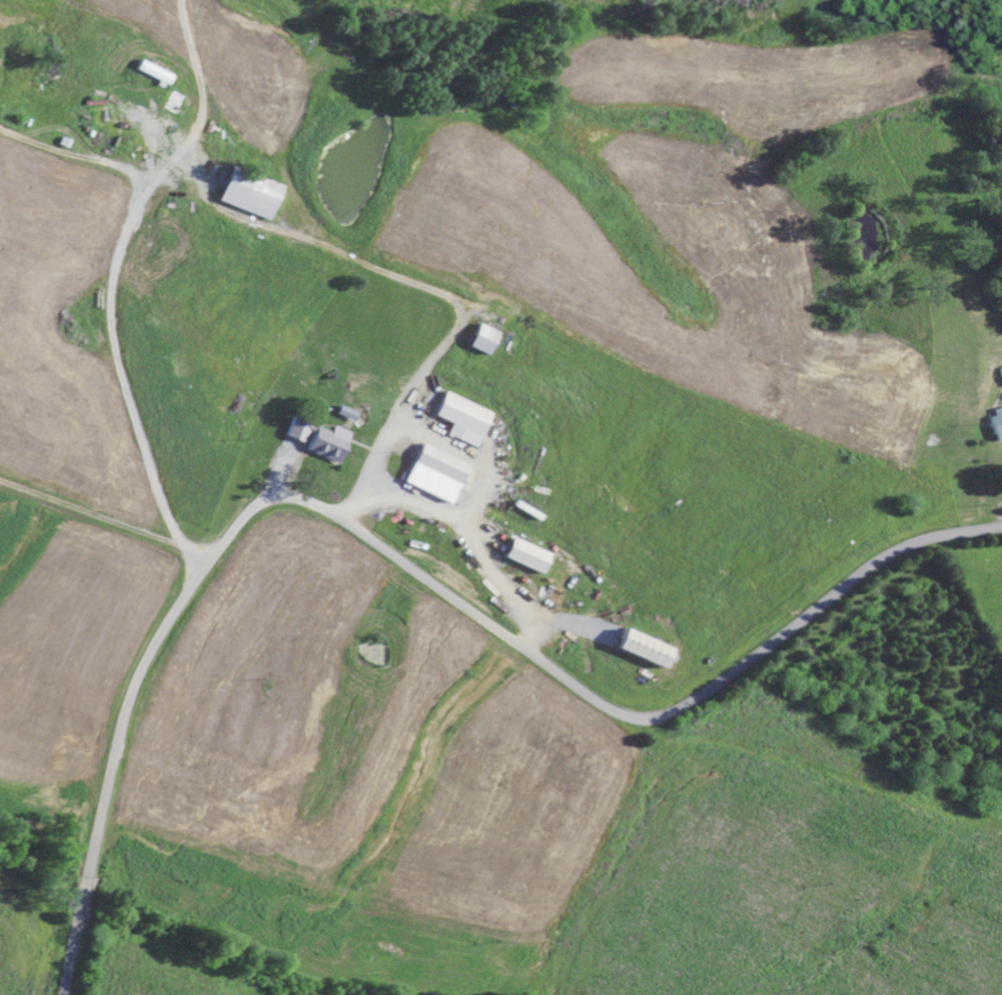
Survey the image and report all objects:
building: (153, 72)
building: (248, 194)
building: (481, 339)
road: (116, 347)
building: (1001, 372)
building: (462, 419)
building: (996, 424)
building: (318, 440)
building: (434, 474)
road: (106, 521)
building: (523, 556)
road: (404, 562)
building: (639, 650)

